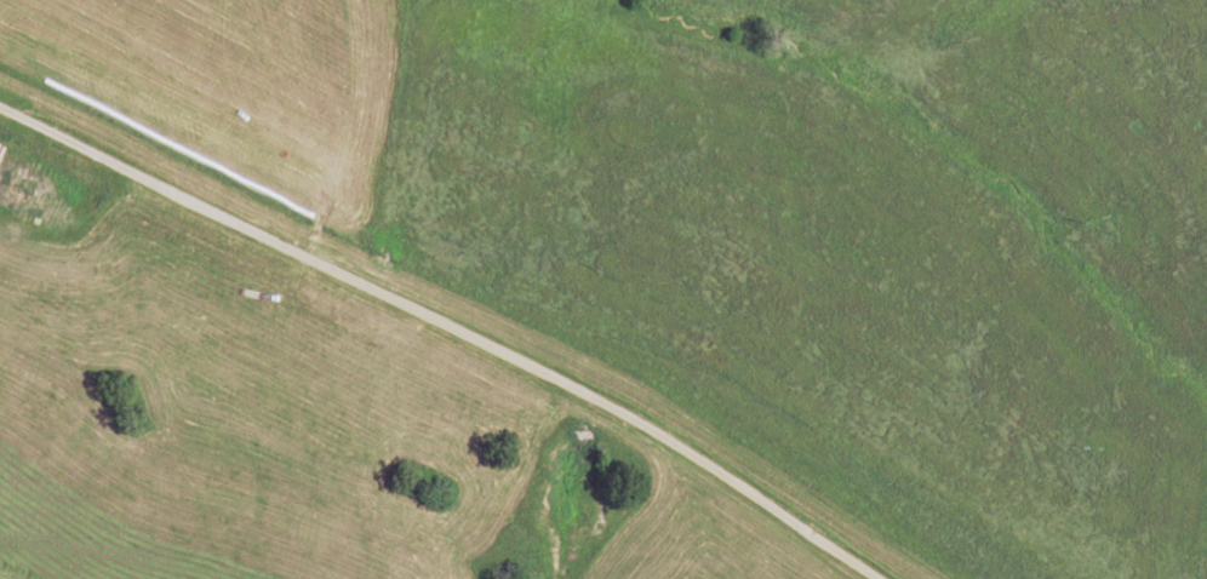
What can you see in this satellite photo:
road: (450, 325)

